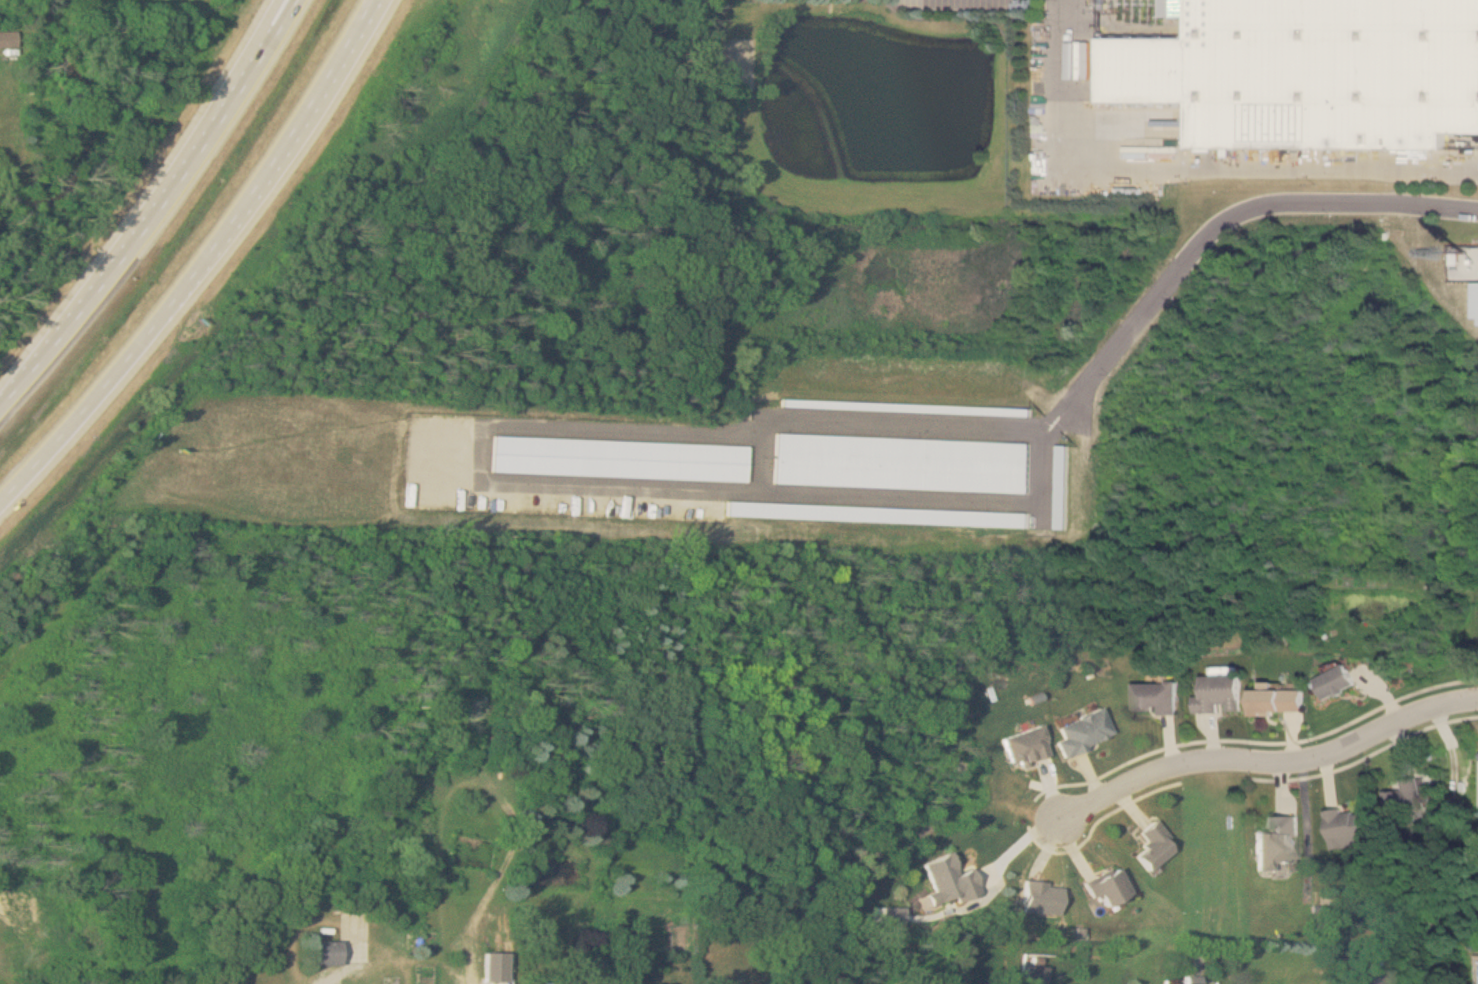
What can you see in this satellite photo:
building: (8, 39)
road: (251, 53)
building: (1307, 72)
river: (92, 128)
road: (1196, 160)
road: (155, 207)
road: (1216, 224)
road: (197, 262)
road: (443, 454)
road: (765, 494)
building: (1336, 680)
building: (1220, 692)
building: (1155, 697)
building: (1278, 699)
building: (1081, 730)
building: (1023, 745)
road: (1337, 751)
road: (1121, 788)
building: (1403, 798)
building: (1345, 828)
building: (1275, 842)
building: (1152, 845)
building: (950, 878)
building: (1107, 887)
building: (1041, 897)
building: (625, 945)
building: (324, 953)
building: (491, 965)
building: (1034, 974)
building: (1376, 975)
road: (341, 977)
building: (391, 980)

